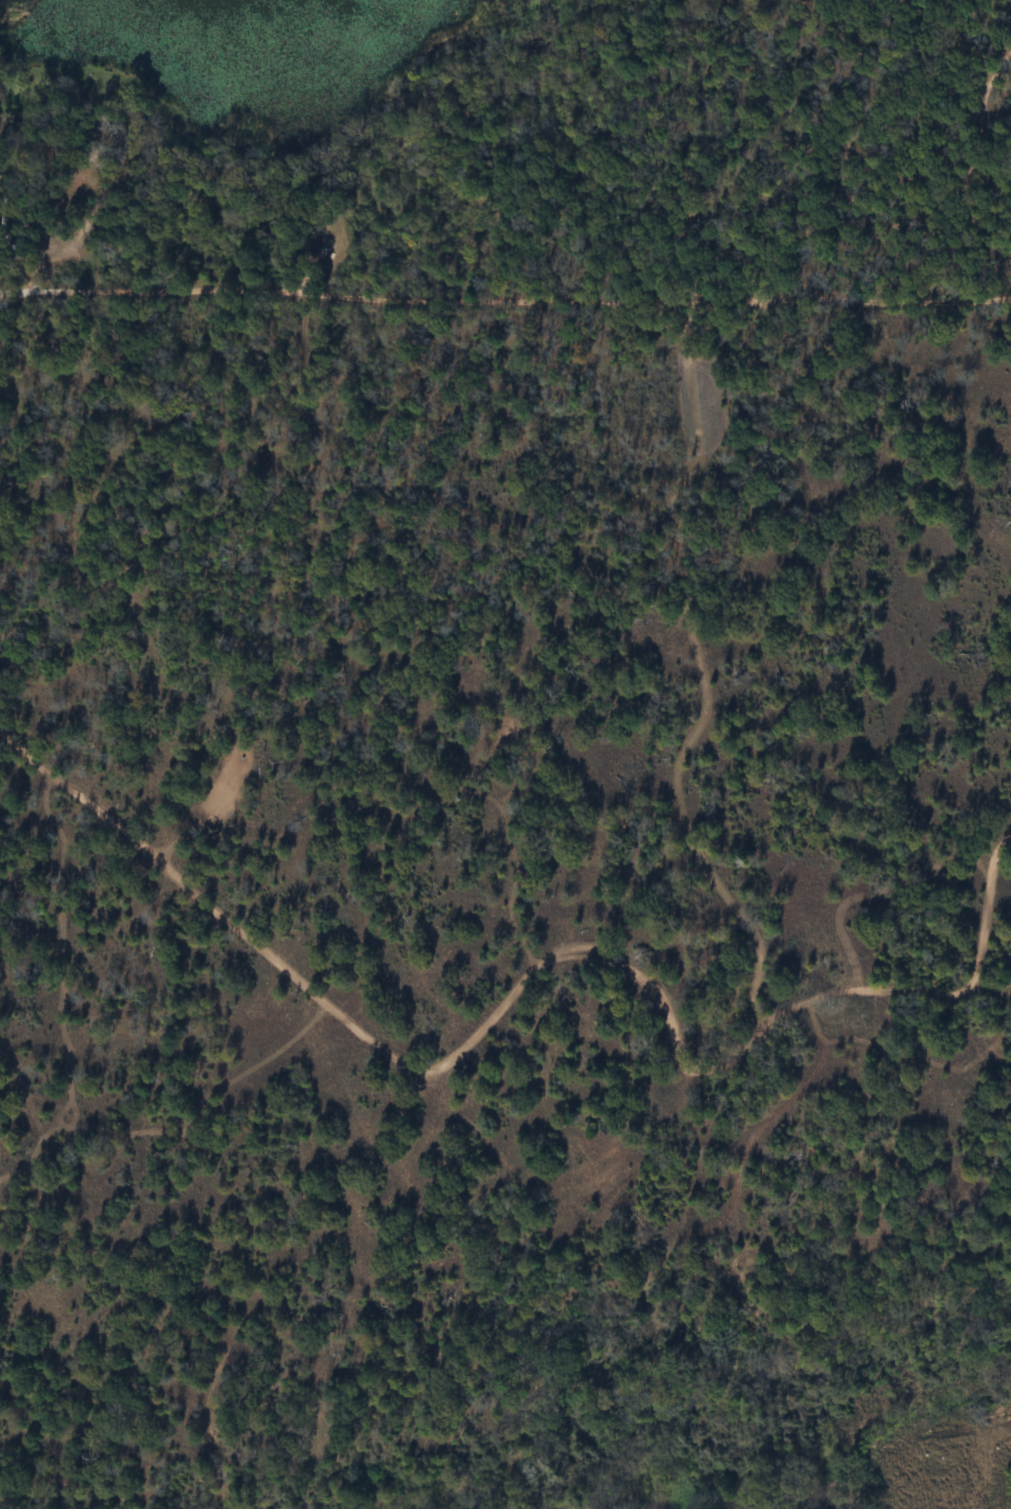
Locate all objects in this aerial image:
road: (33, 293)

